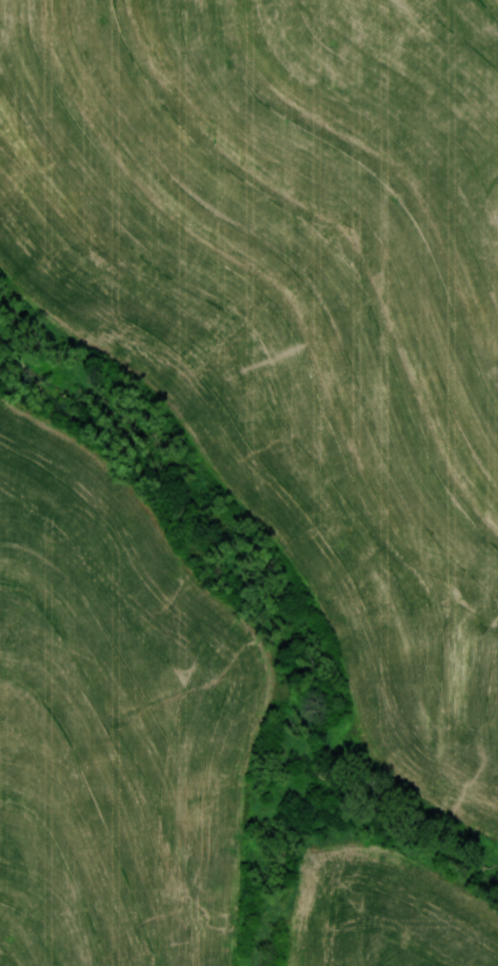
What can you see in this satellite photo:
crop: (298, 304)
crop: (114, 721)
crop: (386, 912)

